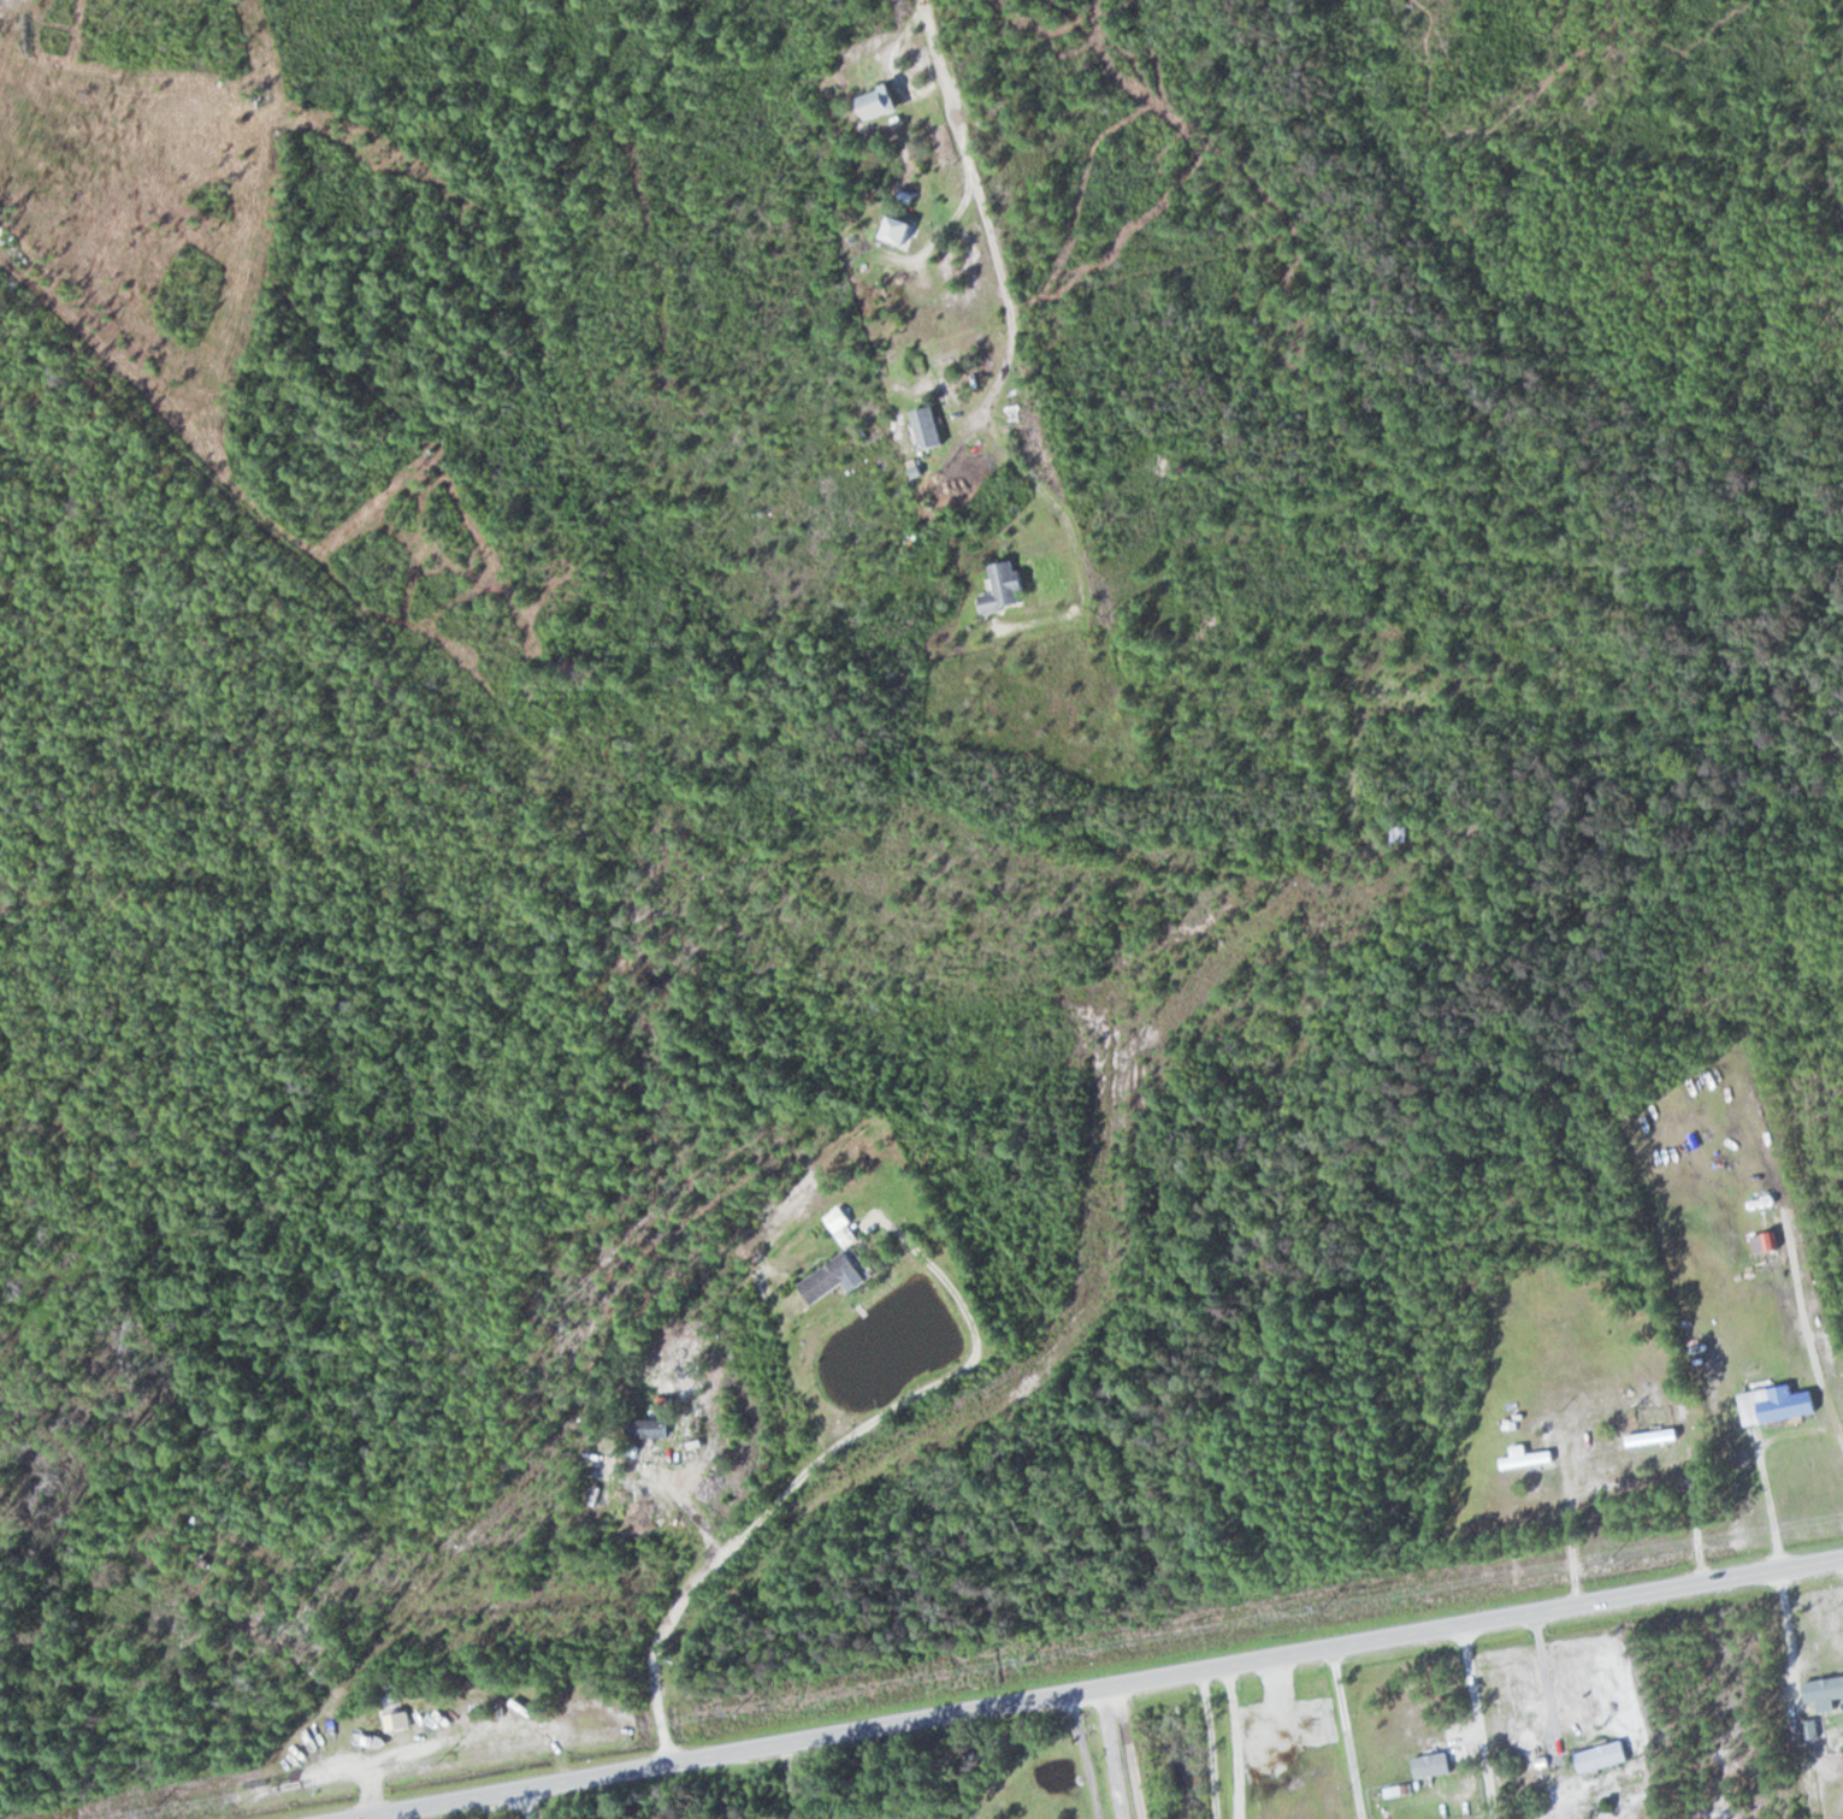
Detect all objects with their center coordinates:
building: (884, 102)
building: (902, 229)
building: (929, 427)
building: (1006, 587)
building: (1401, 833)
building: (849, 1235)
building: (1767, 1242)
building: (832, 1277)
building: (695, 1382)
building: (1779, 1405)
building: (648, 1428)
building: (1655, 1437)
building: (1530, 1459)
power tower: (1611, 1555)
road: (1755, 1573)
power tower: (1319, 1607)
power tower: (1026, 1661)
building: (1825, 1689)
road: (998, 1703)
road: (1636, 1709)
power tower: (731, 1711)
road: (1482, 1717)
road: (1352, 1737)
road: (1091, 1755)
building: (1605, 1755)
power tower: (436, 1761)
building: (1435, 1765)
road: (526, 1803)
power tower: (148, 1811)

